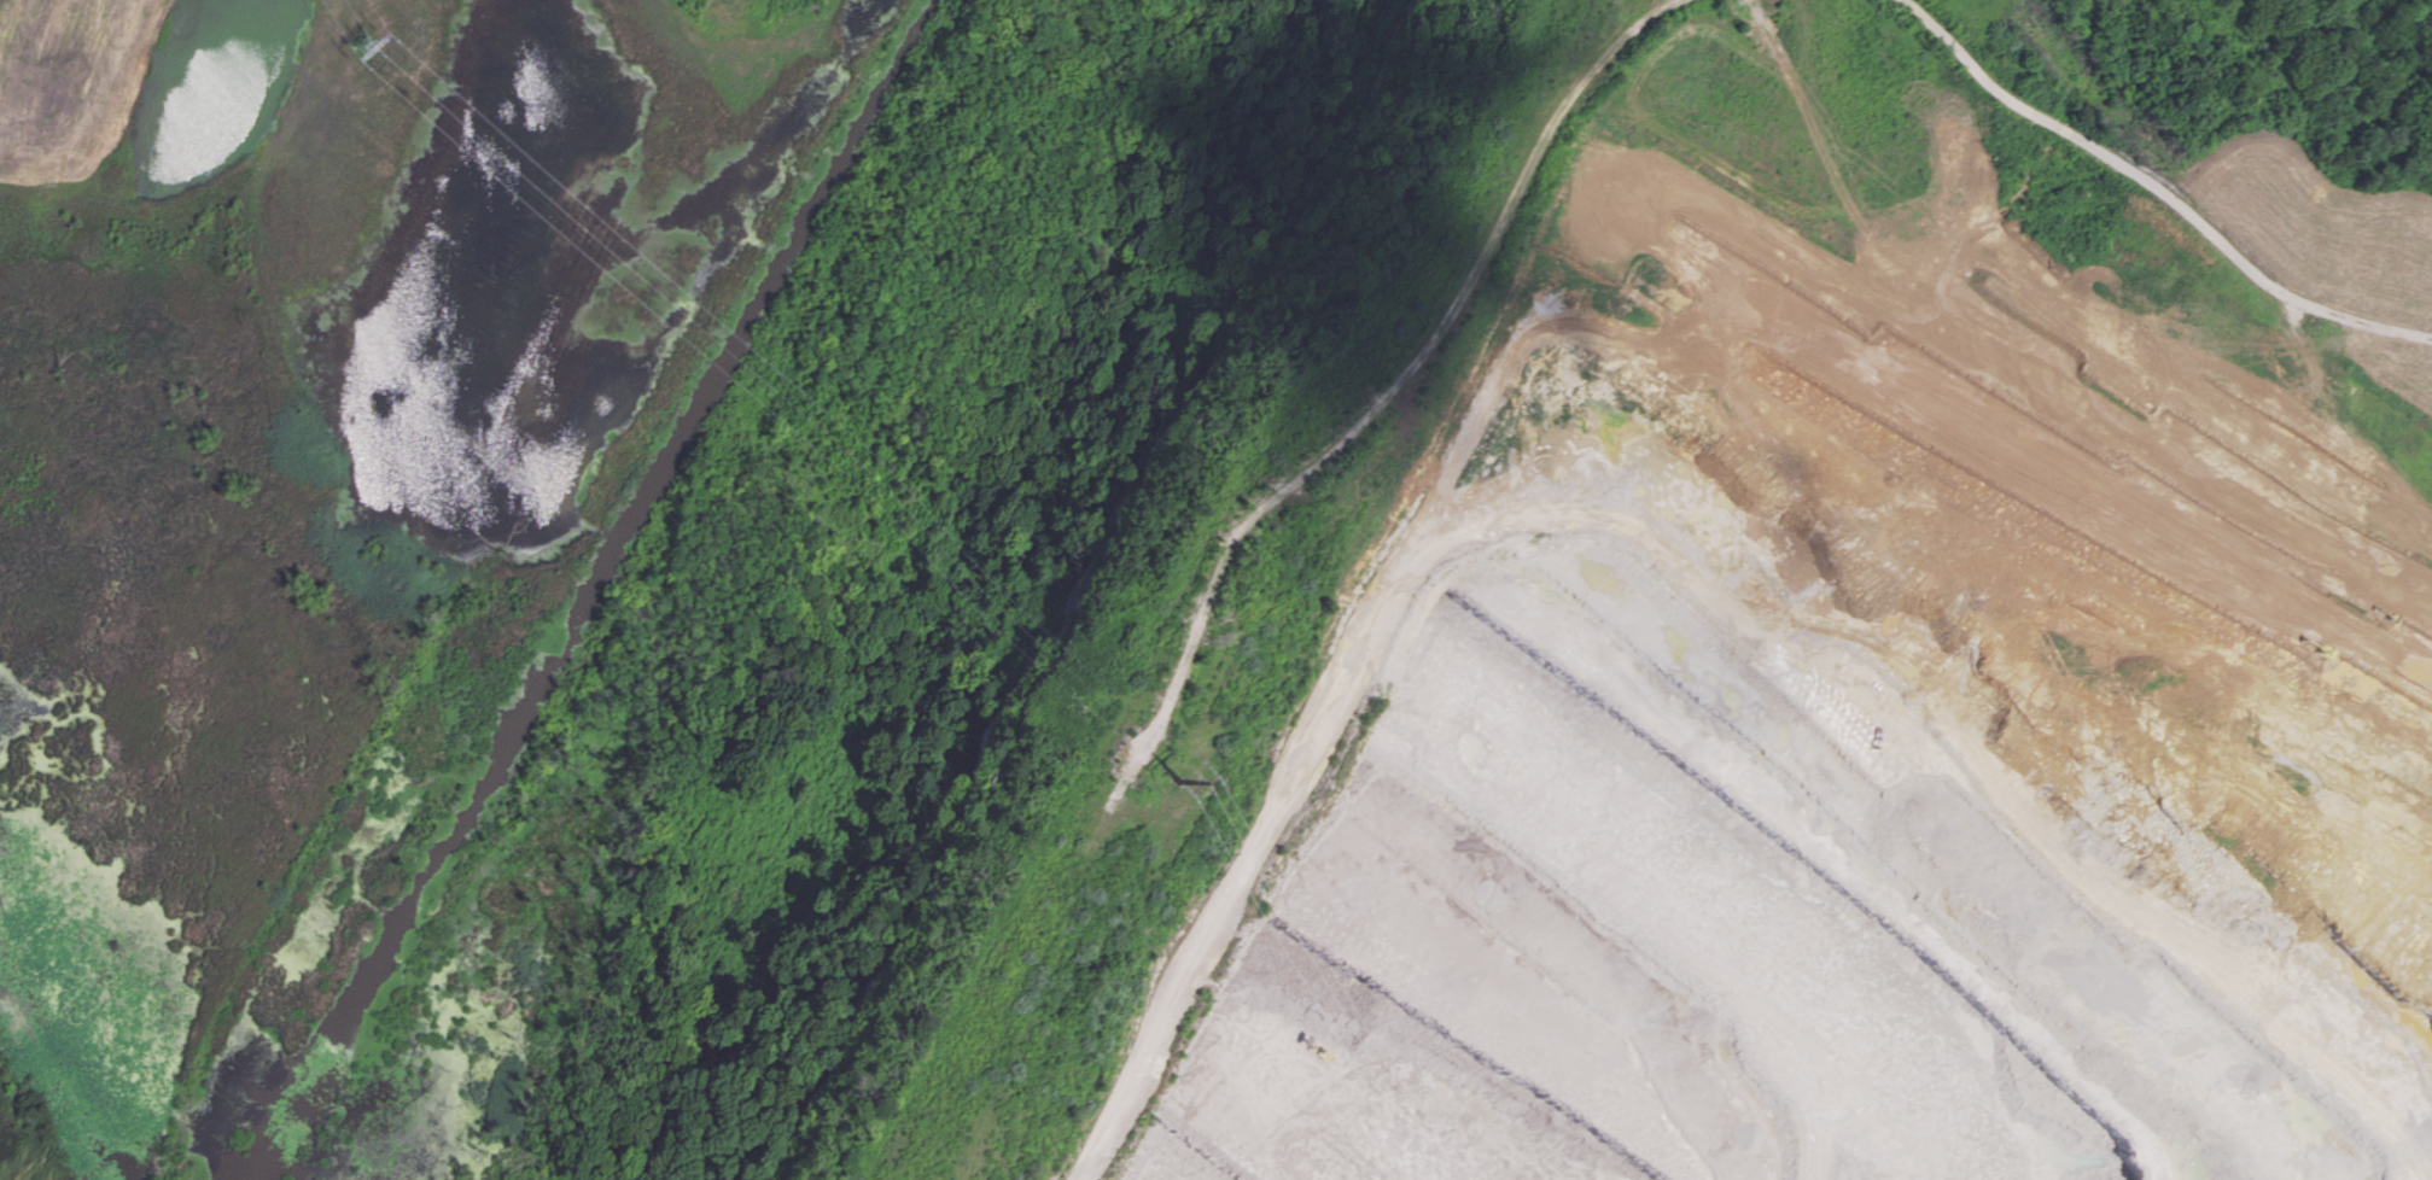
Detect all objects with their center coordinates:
power tower: (361, 45)
power tower: (1182, 782)
quarry: (1469, 1010)
road: (2362, 1128)

